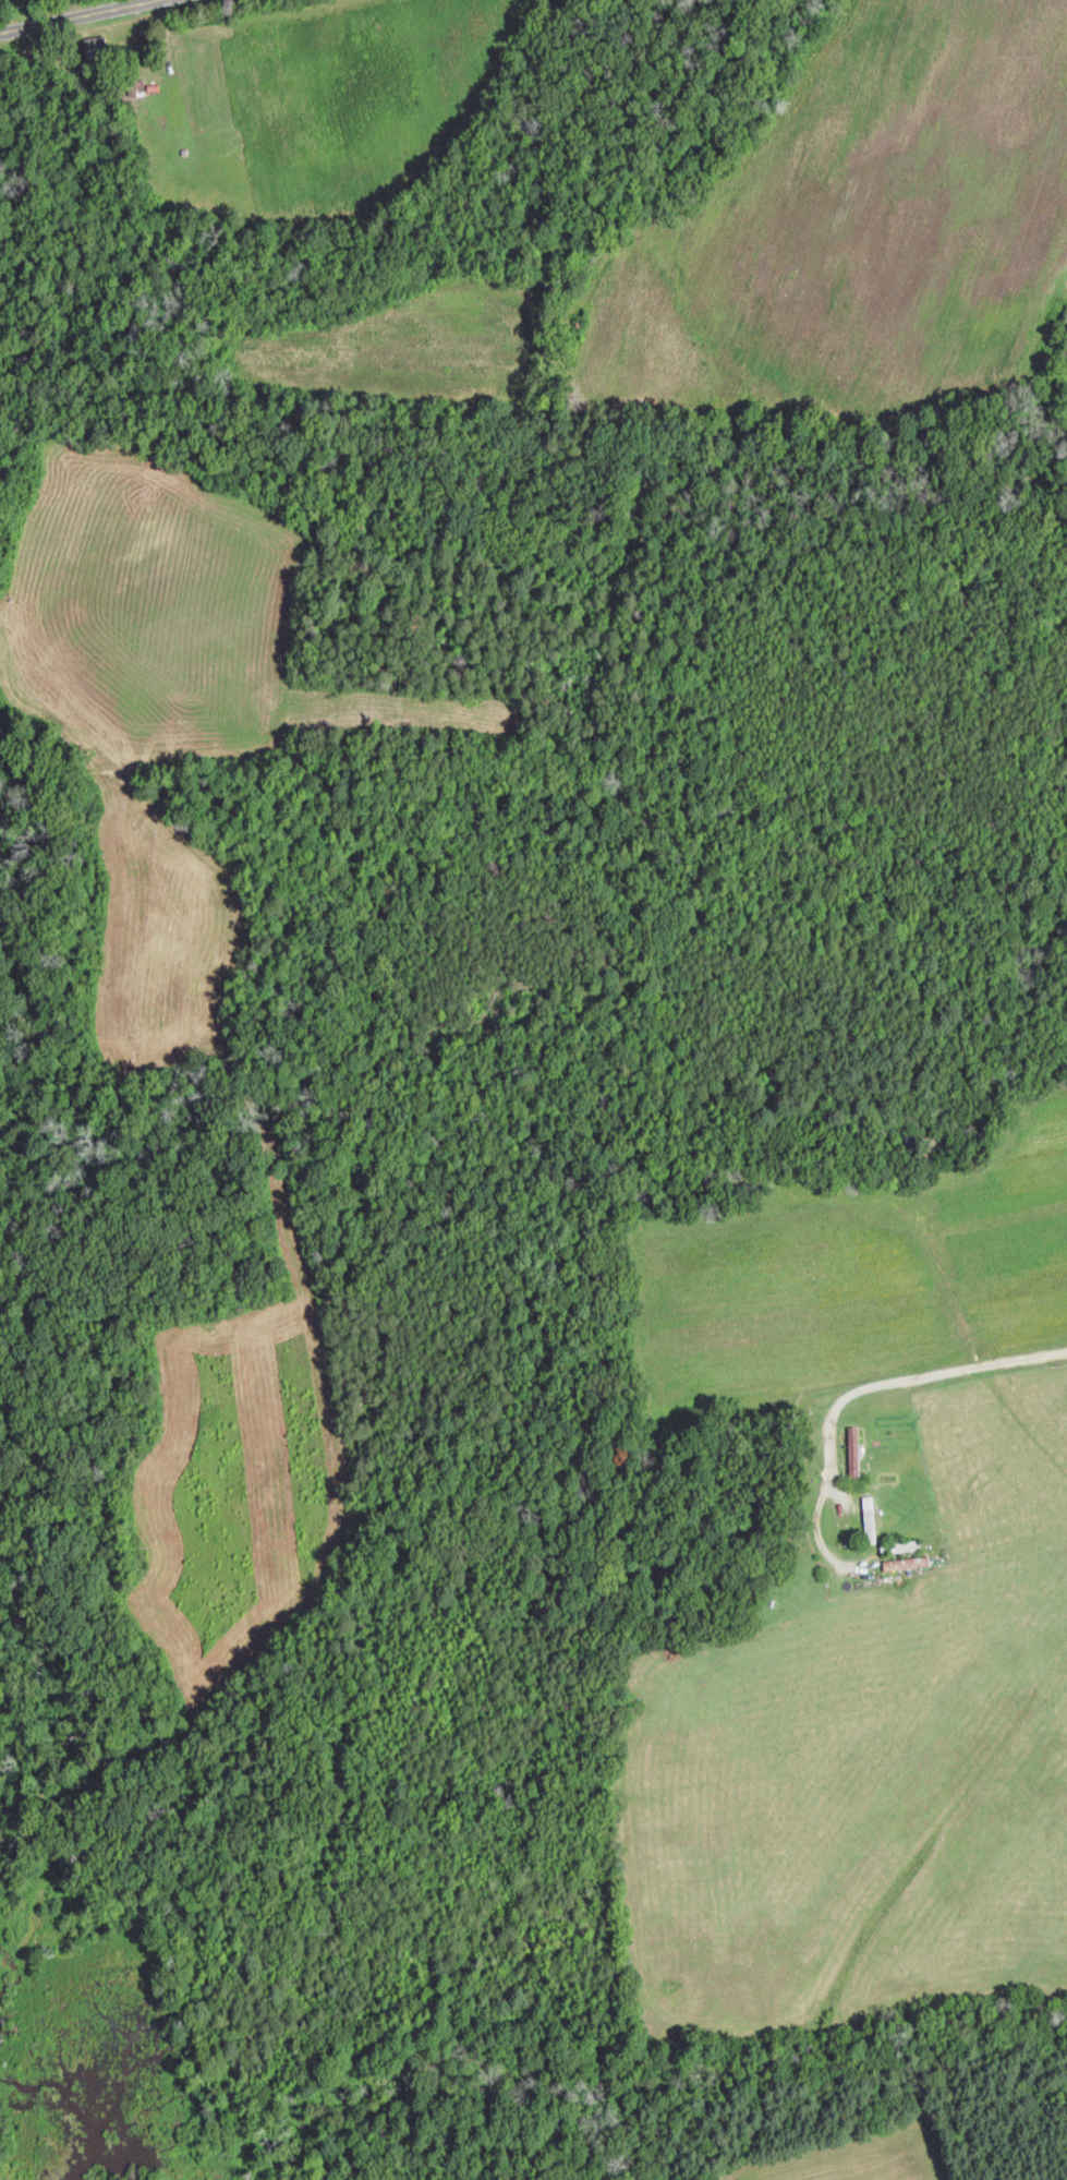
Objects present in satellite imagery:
road: (77, 15)
building: (98, 46)
road: (909, 1377)
building: (854, 1449)
river: (35, 1493)
building: (909, 1544)
building: (909, 1562)
river: (95, 2074)

